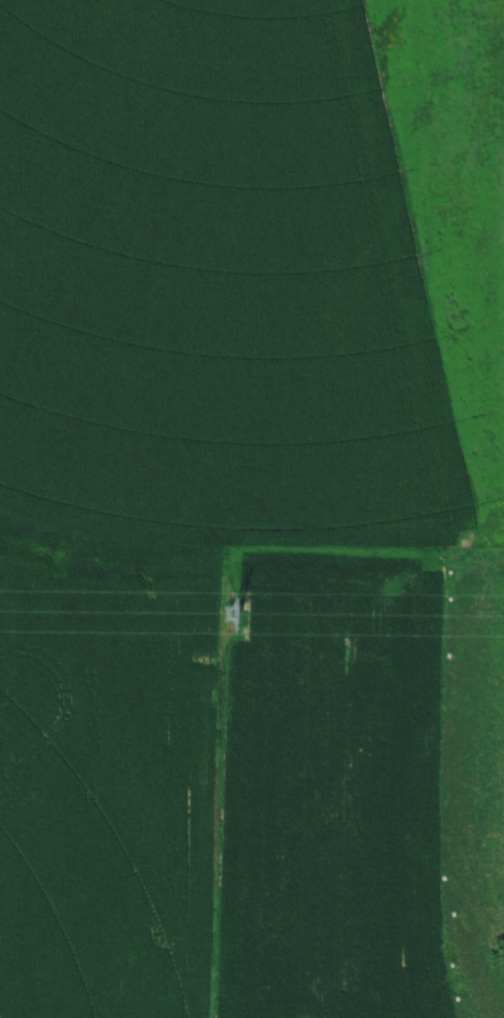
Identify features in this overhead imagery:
power tower: (227, 614)

